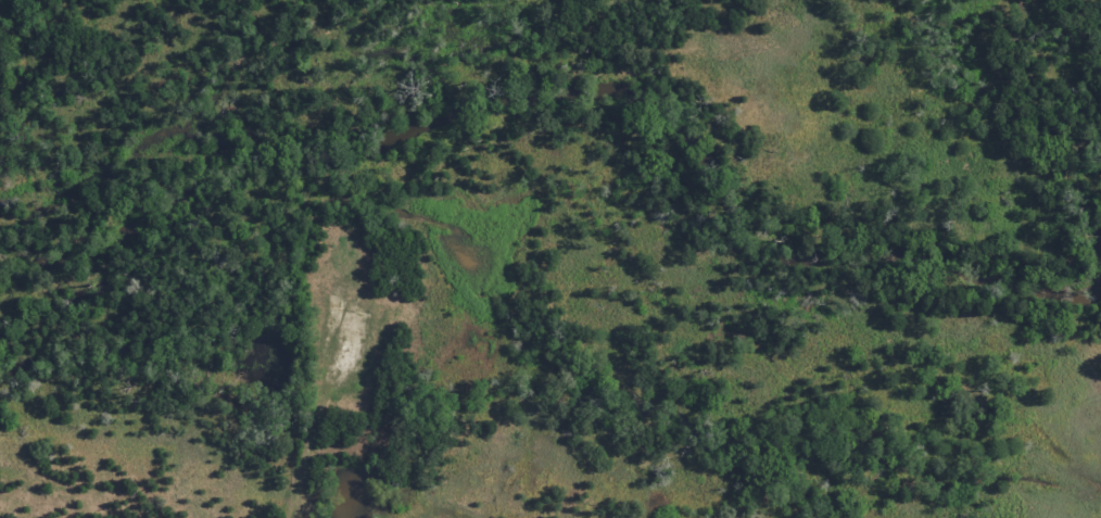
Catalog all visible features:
road: (333, 262)

